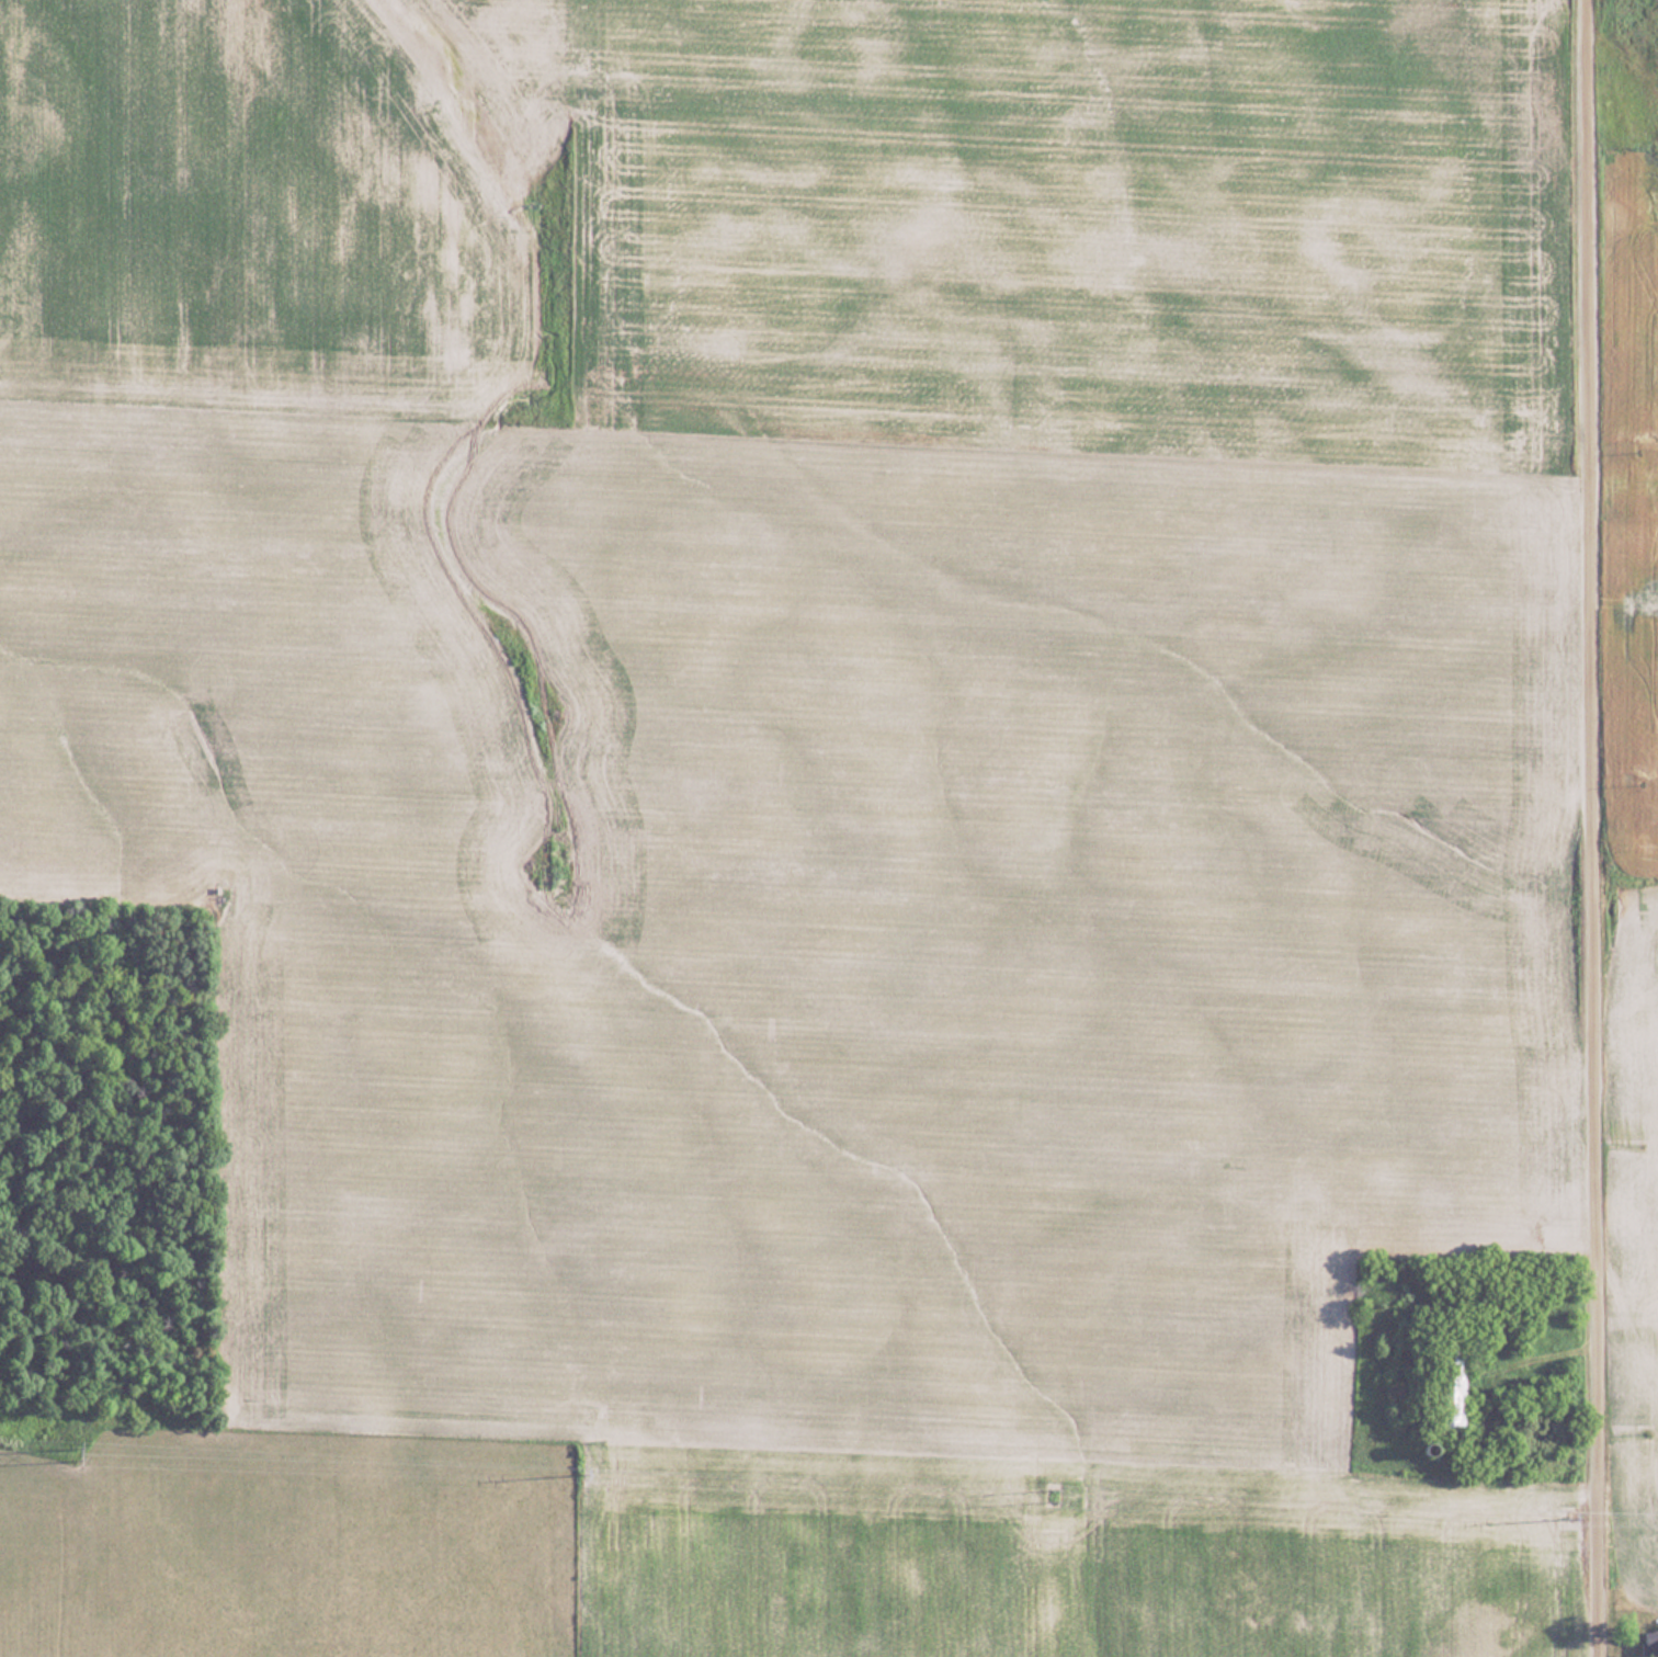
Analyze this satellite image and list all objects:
road: (1597, 828)
building: (1457, 1403)
power tower: (77, 1451)
power tower: (577, 1471)
power tower: (1058, 1487)
power tower: (1563, 1513)
building: (1649, 1642)

